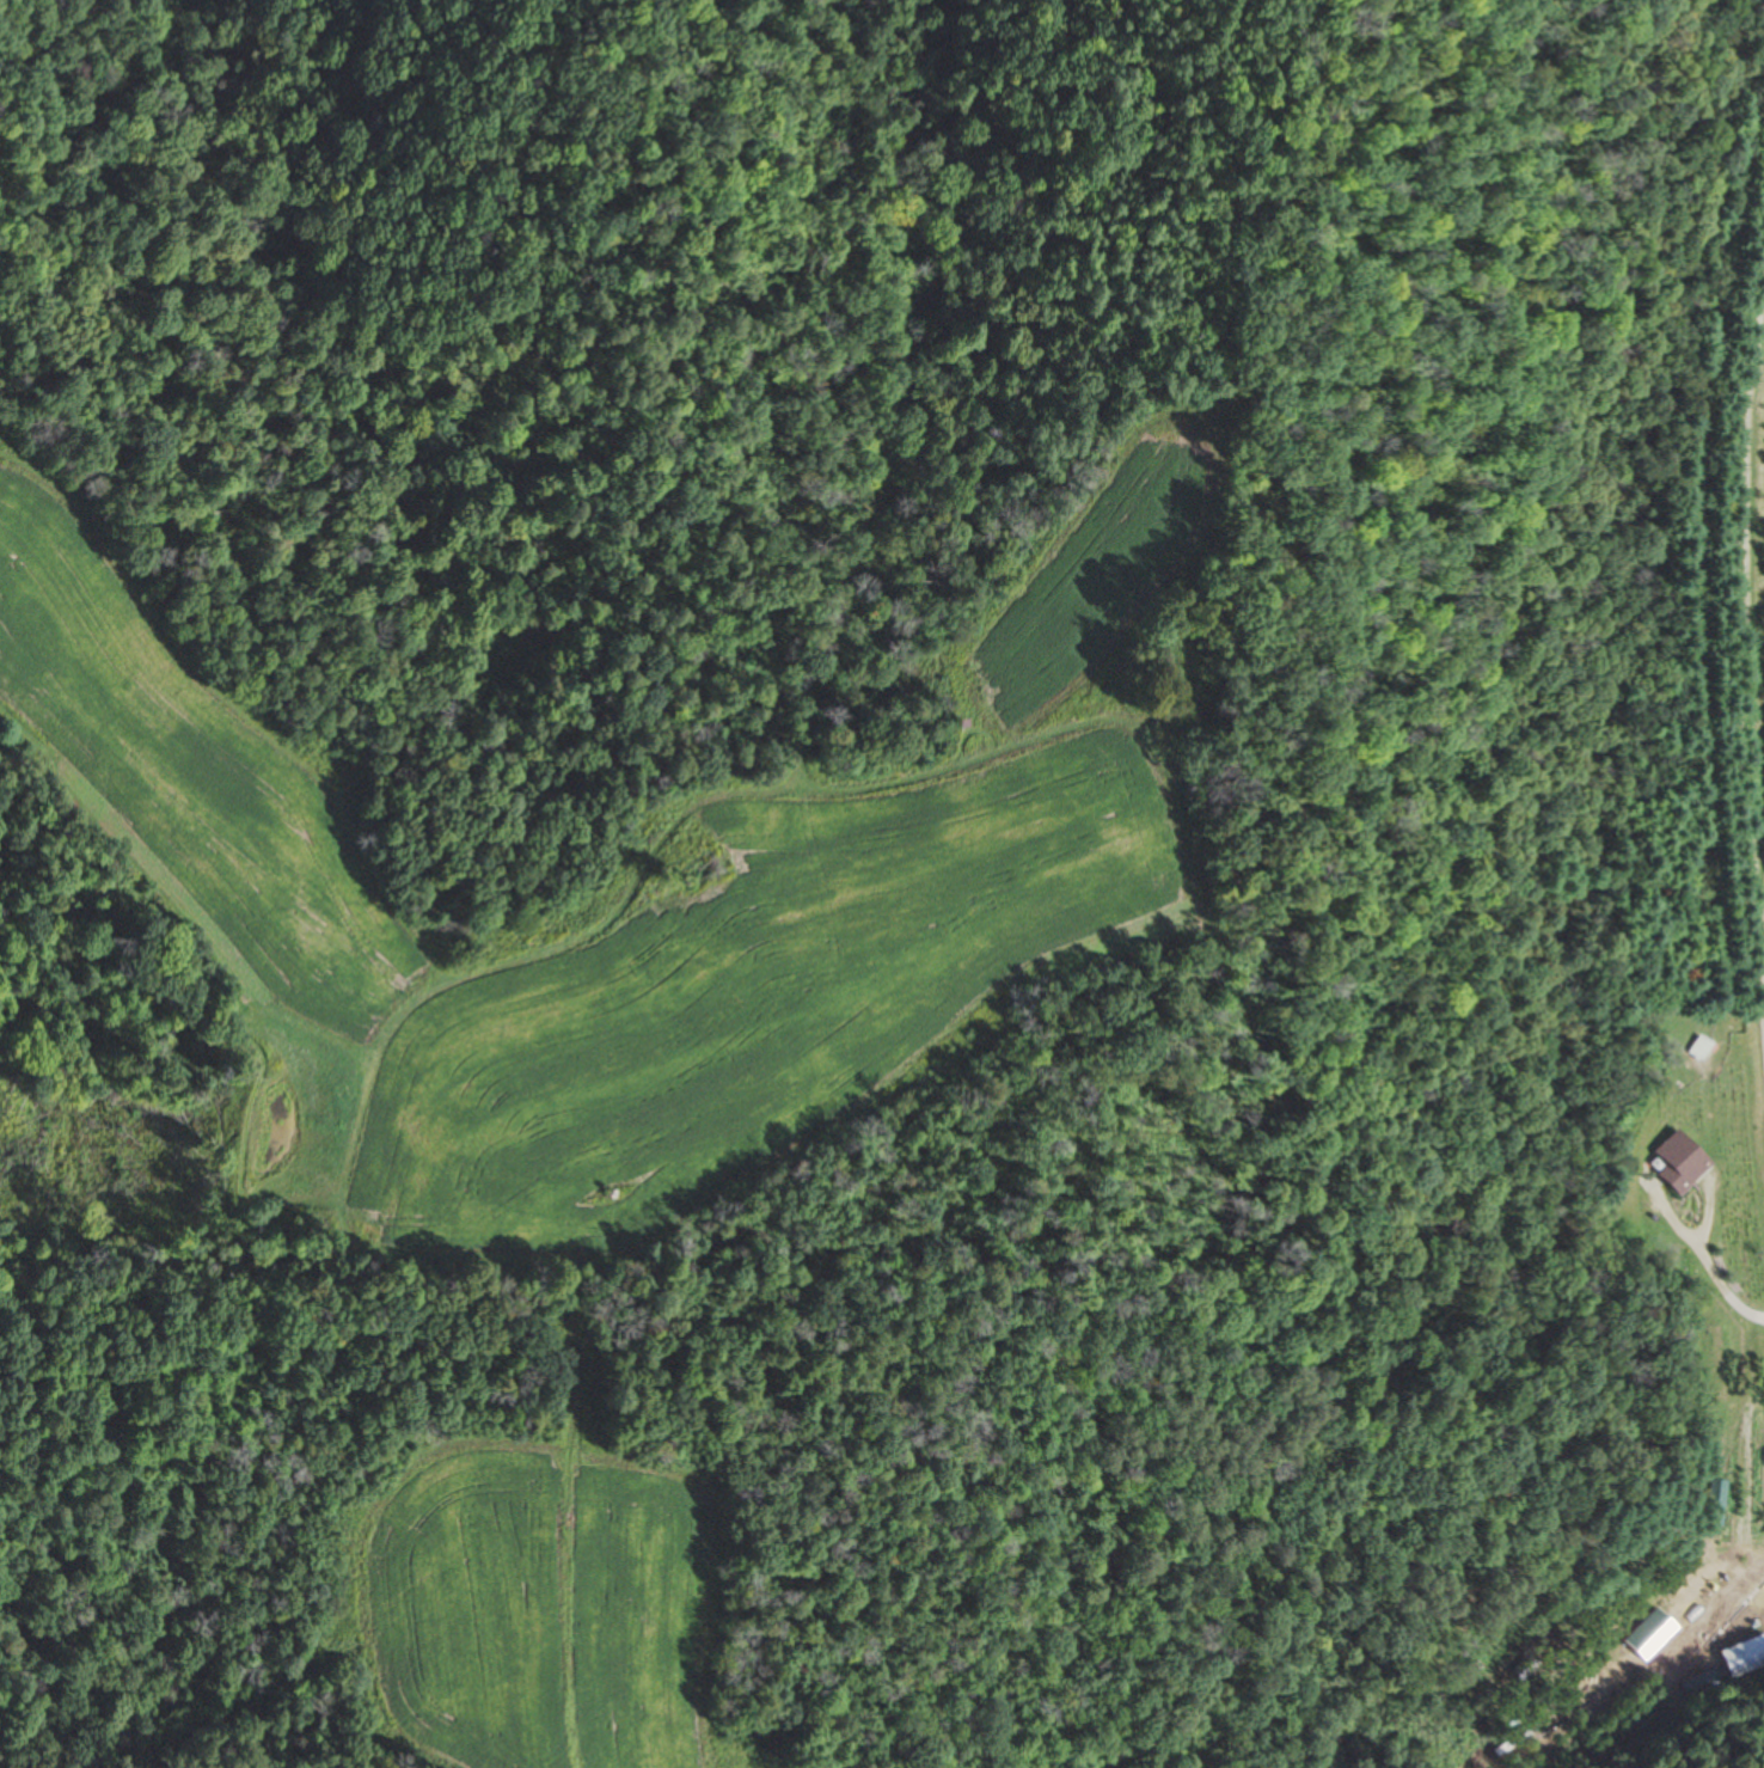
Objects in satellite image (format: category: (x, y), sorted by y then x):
road: (1742, 641)
building: (1698, 1048)
building: (1680, 1162)
building: (1742, 1657)

